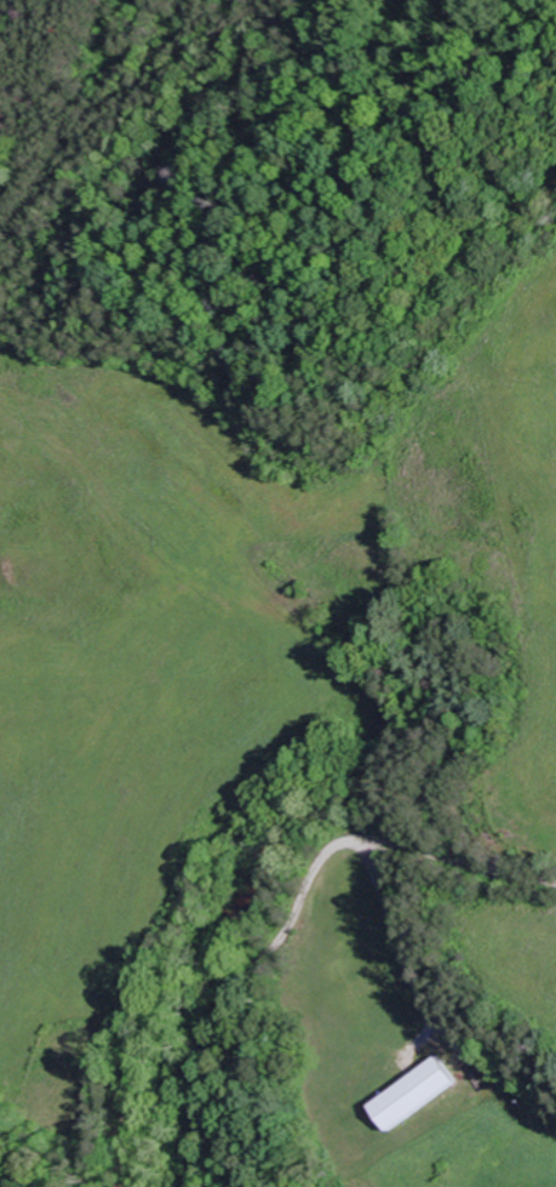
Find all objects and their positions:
road: (300, 915)
building: (417, 1091)

